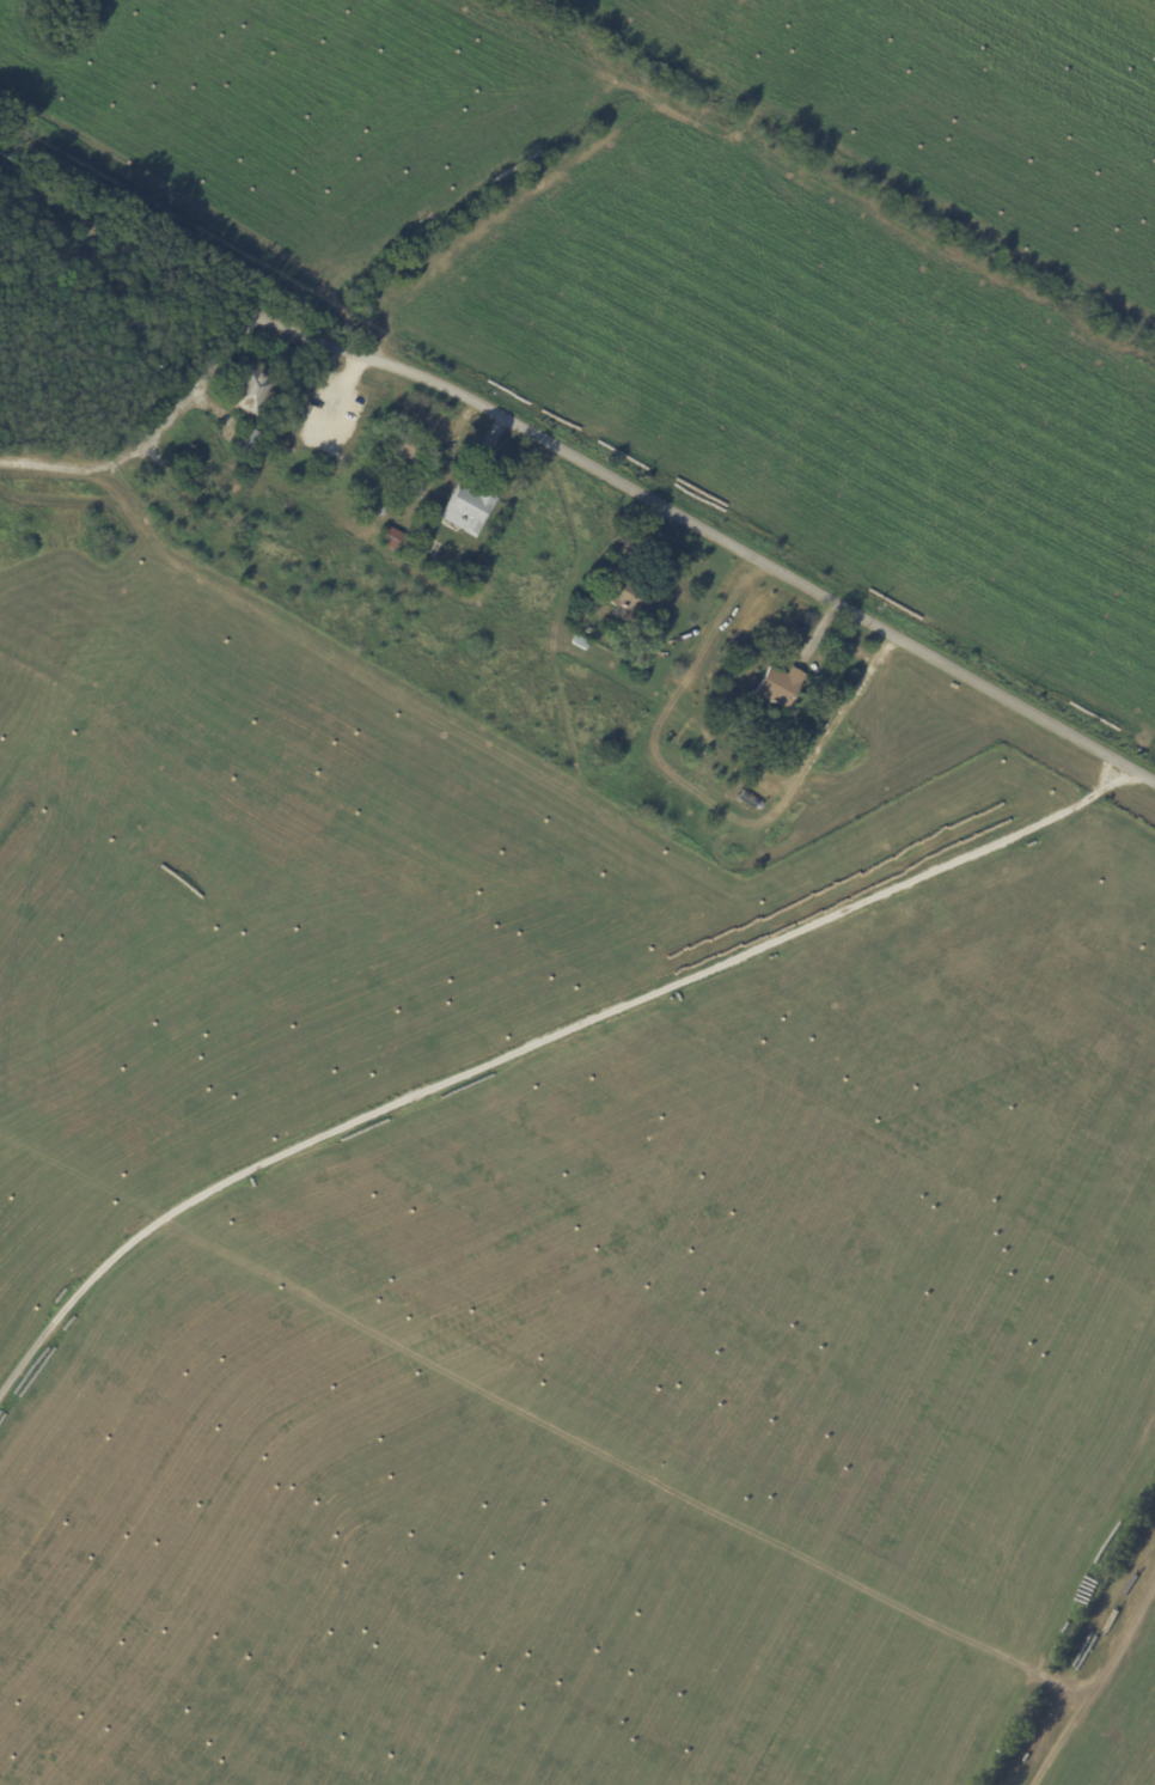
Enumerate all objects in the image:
road: (129, 245)
crop: (713, 257)
parking lot: (298, 345)
building: (256, 394)
building: (250, 443)
building: (402, 446)
road: (130, 459)
building: (414, 487)
building: (363, 510)
building: (463, 510)
road: (685, 530)
building: (390, 540)
building: (625, 595)
building: (579, 642)
building: (641, 659)
building: (777, 686)
building: (746, 823)
crop: (550, 1250)
road: (1105, 1687)

